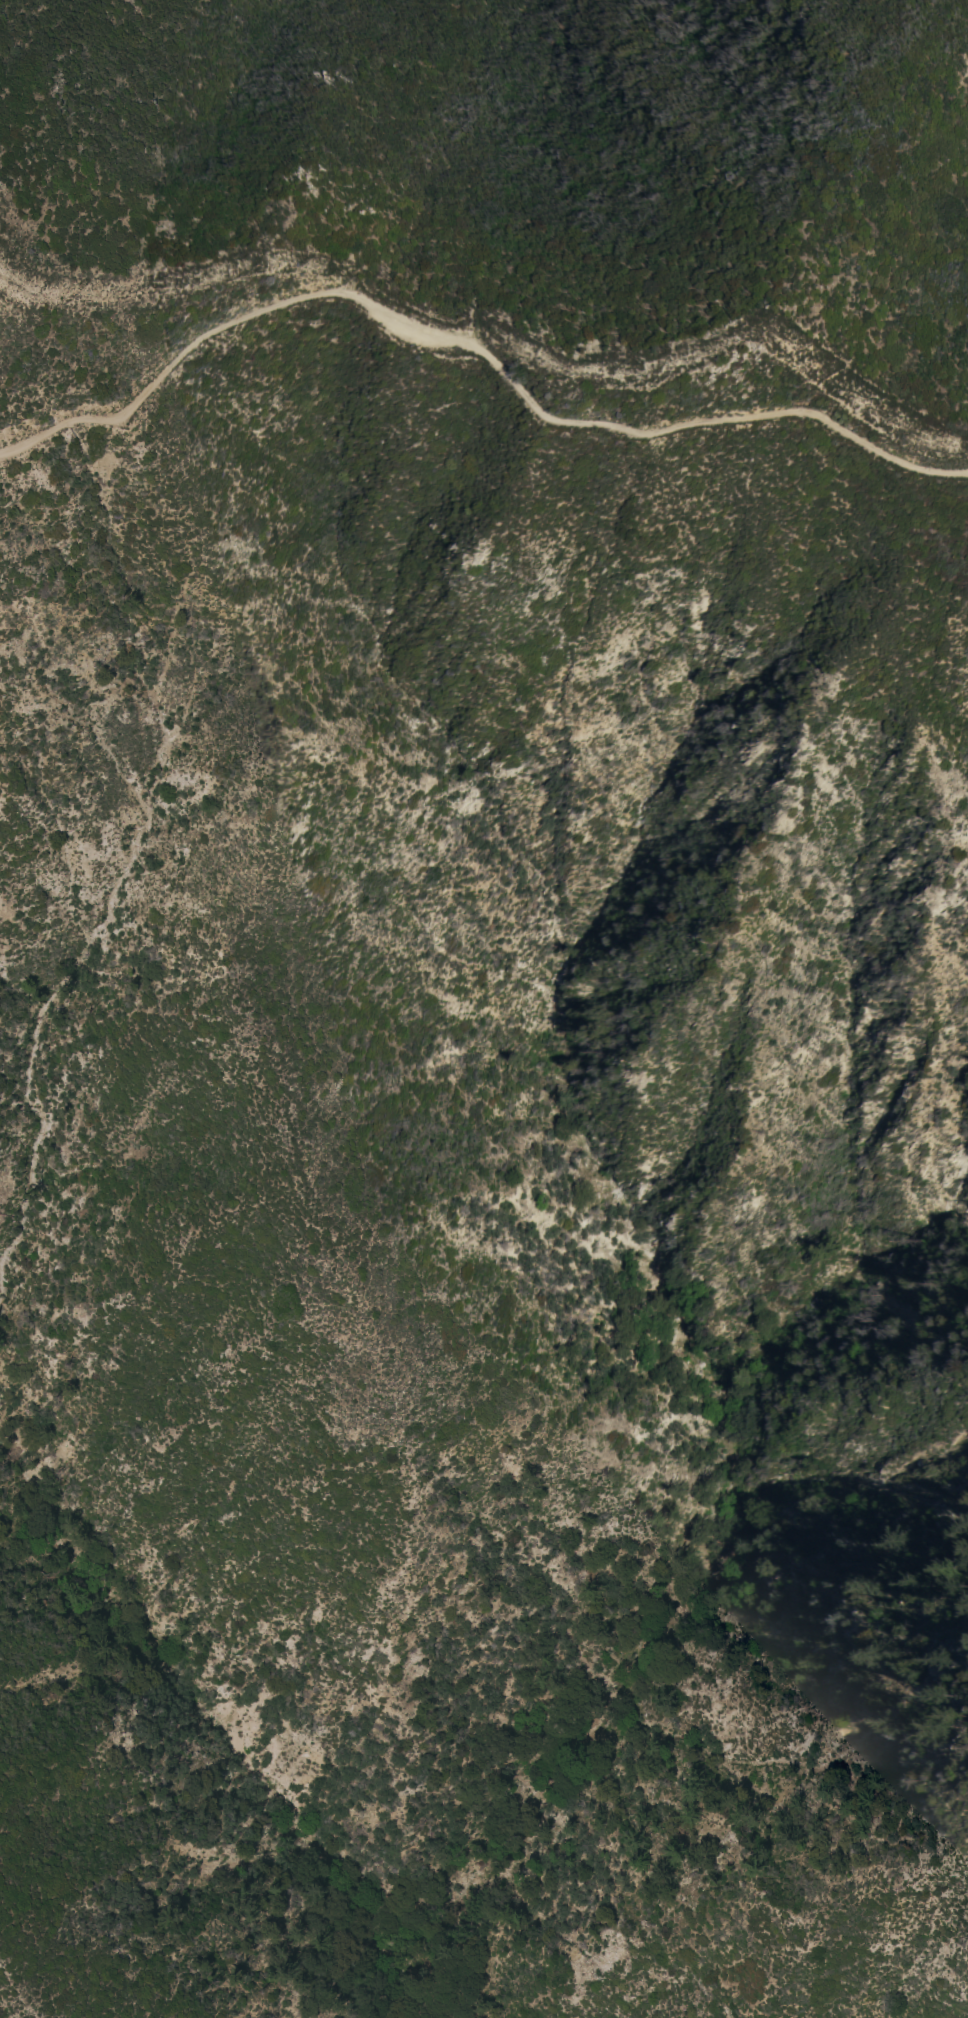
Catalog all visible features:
road: (157, 362)
road: (630, 425)

